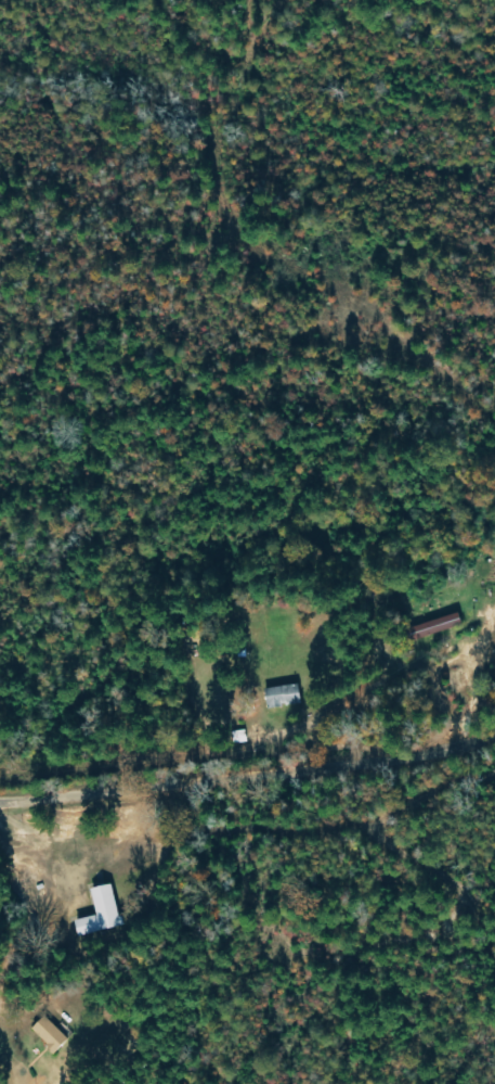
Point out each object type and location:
road: (288, 264)
building: (486, 577)
building: (435, 626)
building: (285, 697)
road: (249, 774)
building: (103, 911)
building: (49, 1034)

